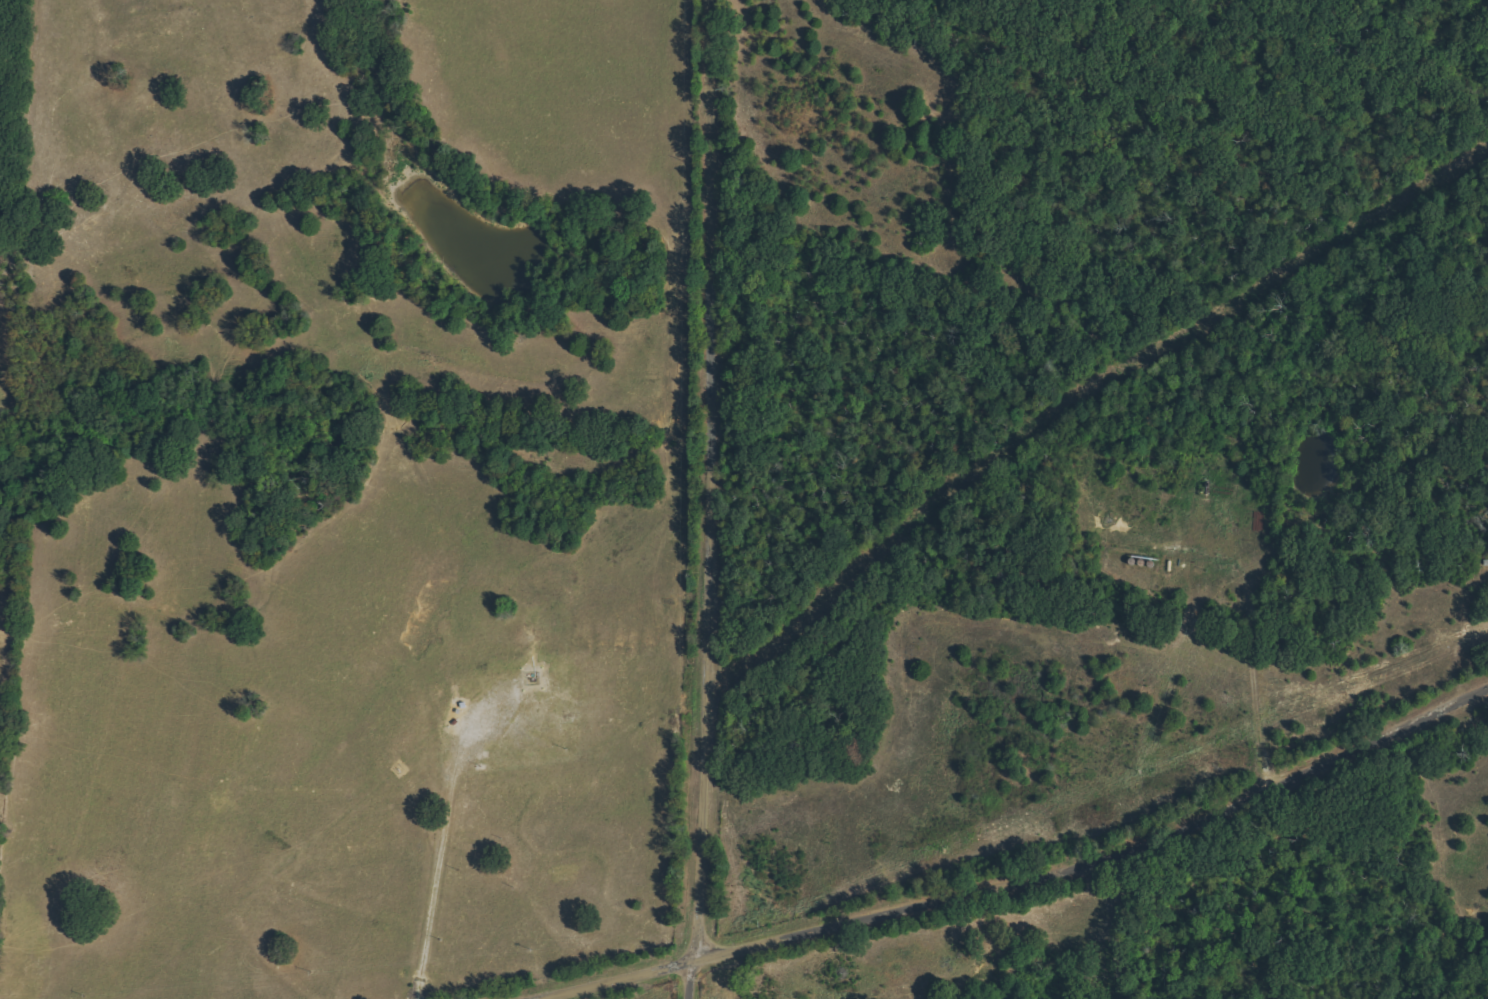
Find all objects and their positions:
road: (703, 421)
power tower: (1351, 684)
power tower: (1140, 772)
power tower: (942, 850)
road: (1105, 855)
road: (434, 865)
road: (702, 921)
power tower: (759, 924)
power tower: (533, 949)
power tower: (313, 971)
road: (616, 978)
power tower: (79, 997)

